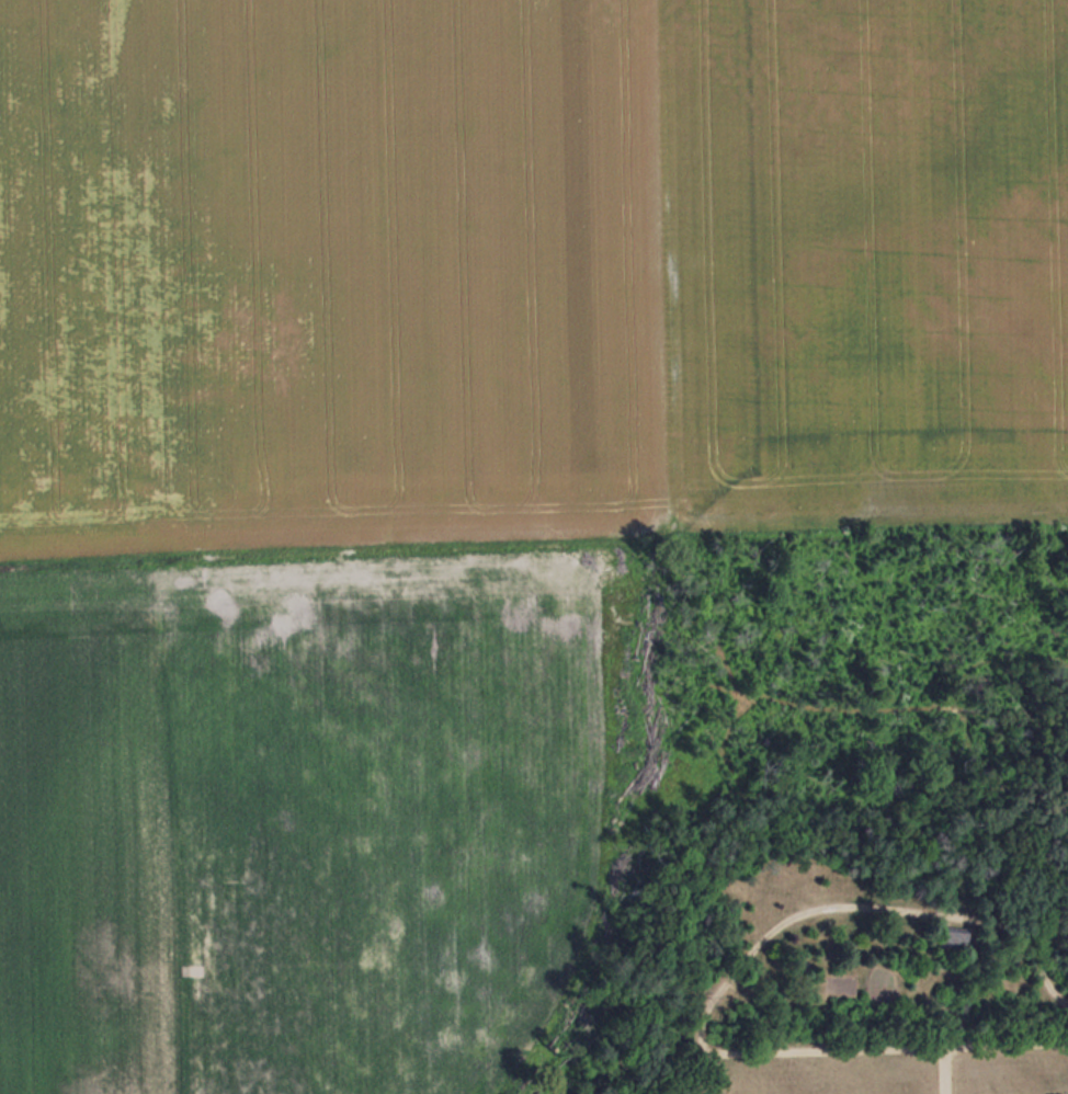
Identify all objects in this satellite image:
building: (955, 936)
park: (882, 983)

